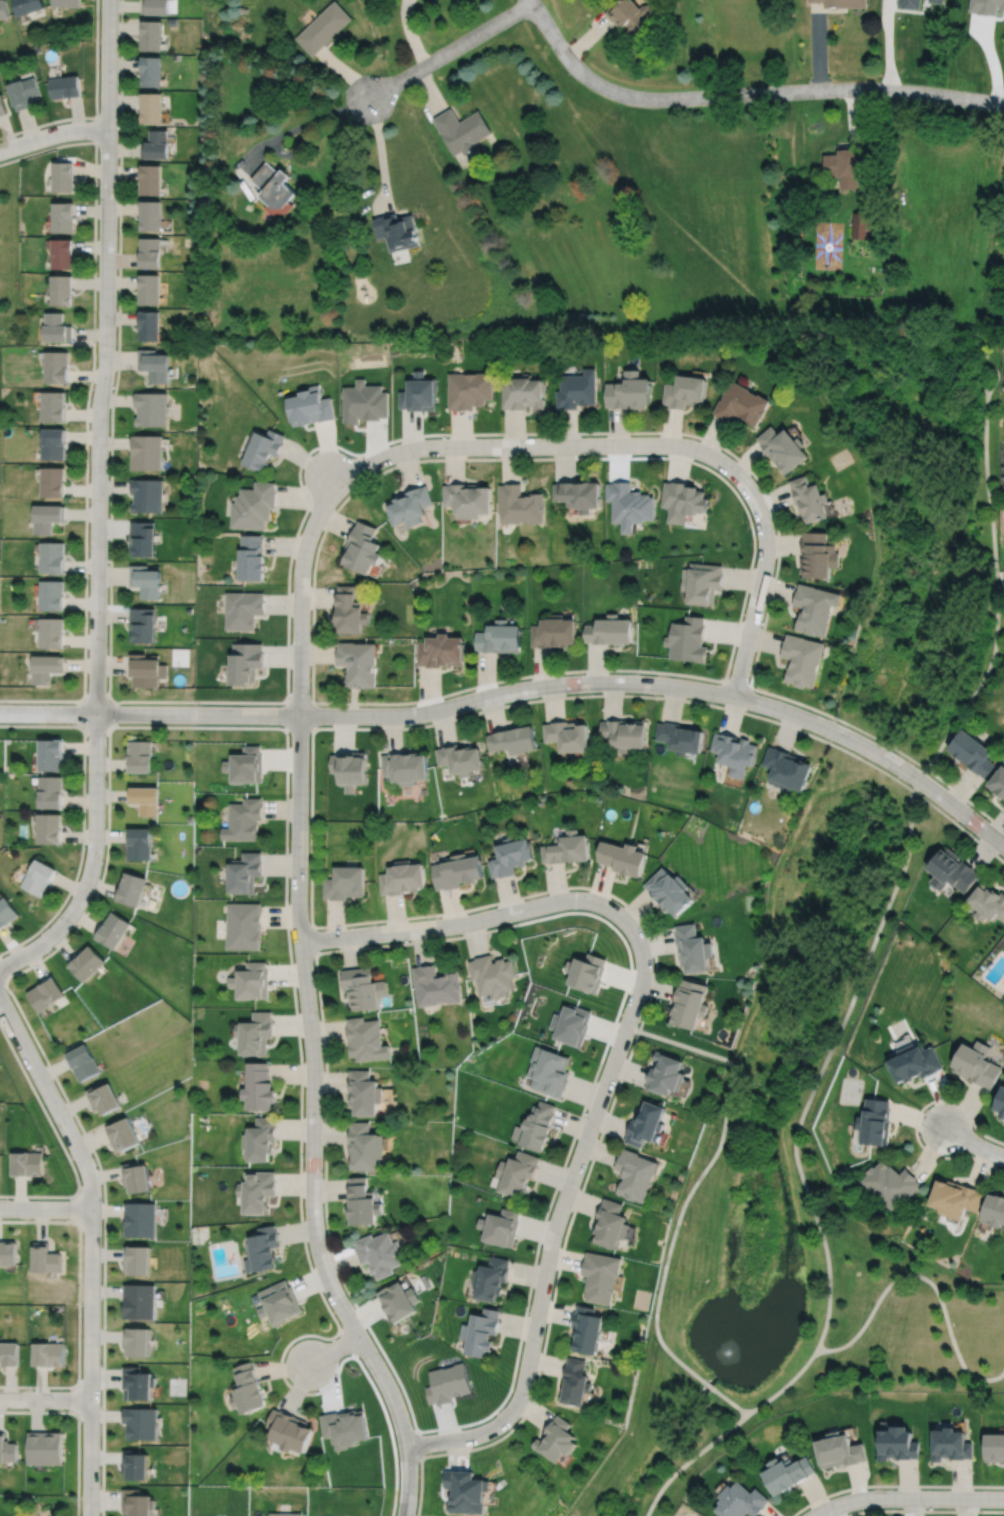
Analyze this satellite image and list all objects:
road: (531, 0)
building: (939, 0)
building: (842, 2)
building: (67, 3)
building: (909, 3)
building: (27, 6)
building: (155, 6)
building: (242, 9)
building: (3, 10)
building: (629, 14)
building: (322, 28)
road: (410, 33)
building: (150, 35)
road: (587, 37)
road: (887, 44)
road: (817, 47)
road: (450, 50)
building: (150, 70)
road: (346, 73)
building: (66, 86)
street lamp: (118, 90)
building: (23, 91)
road: (429, 91)
road: (746, 94)
building: (2, 104)
building: (150, 107)
road: (95, 108)
road: (852, 114)
street lamp: (52, 124)
road: (299, 127)
road: (96, 130)
building: (462, 130)
road: (52, 134)
building: (154, 145)
road: (293, 151)
road: (379, 154)
building: (844, 164)
building: (64, 176)
building: (149, 180)
building: (273, 188)
street lamp: (98, 200)
building: (204, 202)
building: (63, 216)
building: (150, 216)
building: (861, 225)
building: (397, 231)
park: (9, 250)
building: (63, 253)
building: (150, 253)
building: (150, 289)
building: (62, 290)
street lamp: (117, 309)
building: (150, 326)
building: (57, 328)
building: (155, 365)
building: (57, 367)
road: (988, 367)
street lamp: (94, 388)
building: (468, 389)
building: (576, 389)
building: (629, 391)
building: (522, 392)
building: (683, 392)
building: (418, 393)
building: (363, 402)
building: (738, 405)
building: (54, 407)
building: (308, 408)
building: (152, 410)
road: (87, 411)
street lamp: (657, 434)
street lamp: (550, 435)
street lamp: (445, 436)
building: (53, 445)
road: (523, 445)
building: (781, 449)
building: (261, 450)
building: (148, 453)
street lamp: (734, 459)
street lamp: (108, 474)
building: (53, 483)
street lamp: (349, 490)
road: (735, 493)
building: (579, 495)
building: (149, 496)
building: (468, 500)
building: (808, 500)
building: (683, 501)
road: (98, 504)
building: (519, 505)
building: (629, 505)
building: (252, 506)
building: (409, 507)
building: (47, 519)
road: (300, 521)
park: (917, 525)
street lamp: (775, 532)
building: (144, 540)
building: (361, 549)
building: (817, 557)
building: (52, 558)
building: (249, 559)
road: (763, 574)
street lamp: (89, 576)
building: (147, 582)
street lamp: (310, 582)
building: (702, 583)
road: (995, 595)
building: (52, 597)
building: (241, 609)
building: (815, 609)
building: (348, 610)
building: (144, 625)
street lamp: (761, 627)
building: (610, 630)
building: (553, 631)
building: (52, 633)
building: (499, 637)
building: (688, 638)
street lamp: (107, 646)
building: (441, 649)
building: (802, 658)
building: (244, 661)
building: (358, 661)
building: (47, 666)
building: (147, 669)
road: (569, 683)
road: (737, 685)
street lamp: (593, 691)
street lamp: (310, 693)
road: (96, 696)
road: (553, 697)
street lamp: (716, 703)
street lamp: (200, 704)
street lamp: (477, 708)
road: (77, 712)
road: (47, 713)
road: (116, 713)
street lamp: (118, 723)
street lamp: (377, 725)
road: (142, 726)
road: (312, 727)
road: (96, 732)
building: (624, 732)
building: (568, 734)
building: (679, 736)
street lamp: (823, 737)
building: (511, 739)
building: (973, 751)
building: (735, 752)
building: (52, 754)
building: (139, 755)
building: (459, 758)
building: (246, 765)
building: (403, 767)
building: (348, 769)
building: (788, 769)
street lamp: (105, 779)
building: (998, 781)
building: (51, 791)
building: (145, 798)
road: (83, 817)
building: (244, 819)
street lamp: (308, 820)
street lamp: (963, 825)
building: (50, 827)
building: (139, 843)
road: (981, 843)
street lamp: (85, 847)
building: (566, 849)
building: (509, 857)
building: (622, 858)
building: (952, 870)
building: (456, 871)
building: (245, 872)
building: (39, 877)
building: (401, 879)
building: (343, 883)
building: (131, 888)
building: (669, 891)
street lamp: (547, 893)
building: (988, 902)
building: (7, 912)
street lamp: (434, 917)
road: (459, 923)
road: (518, 923)
building: (243, 924)
street lamp: (72, 928)
building: (113, 930)
street lamp: (646, 934)
road: (313, 940)
building: (693, 949)
building: (87, 964)
road: (3, 970)
building: (587, 972)
building: (494, 976)
building: (250, 980)
road: (3, 984)
building: (437, 984)
building: (363, 986)
building: (45, 994)
road: (307, 1001)
building: (689, 1005)
street lamp: (318, 1016)
building: (572, 1025)
building: (255, 1032)
street lamp: (633, 1035)
building: (366, 1038)
road: (826, 1062)
building: (83, 1063)
building: (915, 1063)
building: (977, 1065)
building: (550, 1072)
building: (667, 1076)
road: (619, 1083)
building: (258, 1086)
building: (365, 1091)
building: (103, 1099)
building: (1000, 1103)
road: (916, 1118)
street lamp: (323, 1119)
building: (875, 1123)
building: (647, 1125)
building: (536, 1127)
street lamp: (599, 1131)
building: (123, 1135)
street lamp: (920, 1137)
building: (260, 1138)
road: (60, 1142)
road: (972, 1143)
building: (365, 1146)
building: (29, 1164)
building: (635, 1172)
building: (518, 1174)
road: (702, 1174)
building: (136, 1178)
park: (793, 1179)
street lamp: (80, 1180)
building: (892, 1185)
building: (257, 1191)
building: (956, 1200)
building: (363, 1202)
road: (45, 1208)
road: (74, 1208)
road: (560, 1210)
building: (994, 1212)
building: (140, 1219)
building: (611, 1221)
building: (499, 1225)
street lamp: (325, 1234)
street lamp: (562, 1240)
road: (92, 1246)
building: (261, 1249)
building: (8, 1251)
building: (380, 1253)
building: (46, 1257)
building: (138, 1259)
building: (490, 1275)
building: (601, 1275)
road: (926, 1278)
building: (140, 1301)
building: (399, 1301)
building: (279, 1302)
road: (78, 1303)
street lamp: (81, 1304)
building: (586, 1328)
building: (479, 1330)
building: (137, 1342)
street lamp: (541, 1347)
road: (334, 1349)
building: (9, 1352)
building: (48, 1352)
street lamp: (384, 1359)
building: (575, 1380)
building: (447, 1382)
building: (138, 1384)
road: (785, 1386)
road: (708, 1387)
building: (250, 1390)
road: (44, 1398)
road: (72, 1398)
road: (733, 1405)
street lamp: (80, 1421)
building: (141, 1424)
road: (77, 1426)
building: (346, 1428)
street lamp: (506, 1430)
building: (293, 1432)
building: (556, 1438)
road: (418, 1444)
building: (899, 1445)
building: (952, 1446)
building: (45, 1447)
building: (7, 1448)
building: (995, 1448)
building: (840, 1451)
road: (691, 1460)
building: (135, 1465)
street lamp: (418, 1466)
building: (787, 1475)
road: (893, 1485)
building: (465, 1491)
road: (907, 1498)
road: (393, 1501)
building: (740, 1502)
building: (137, 1503)
street lamp: (925, 1508)
road: (924, 1510)
building: (285, 1514)

